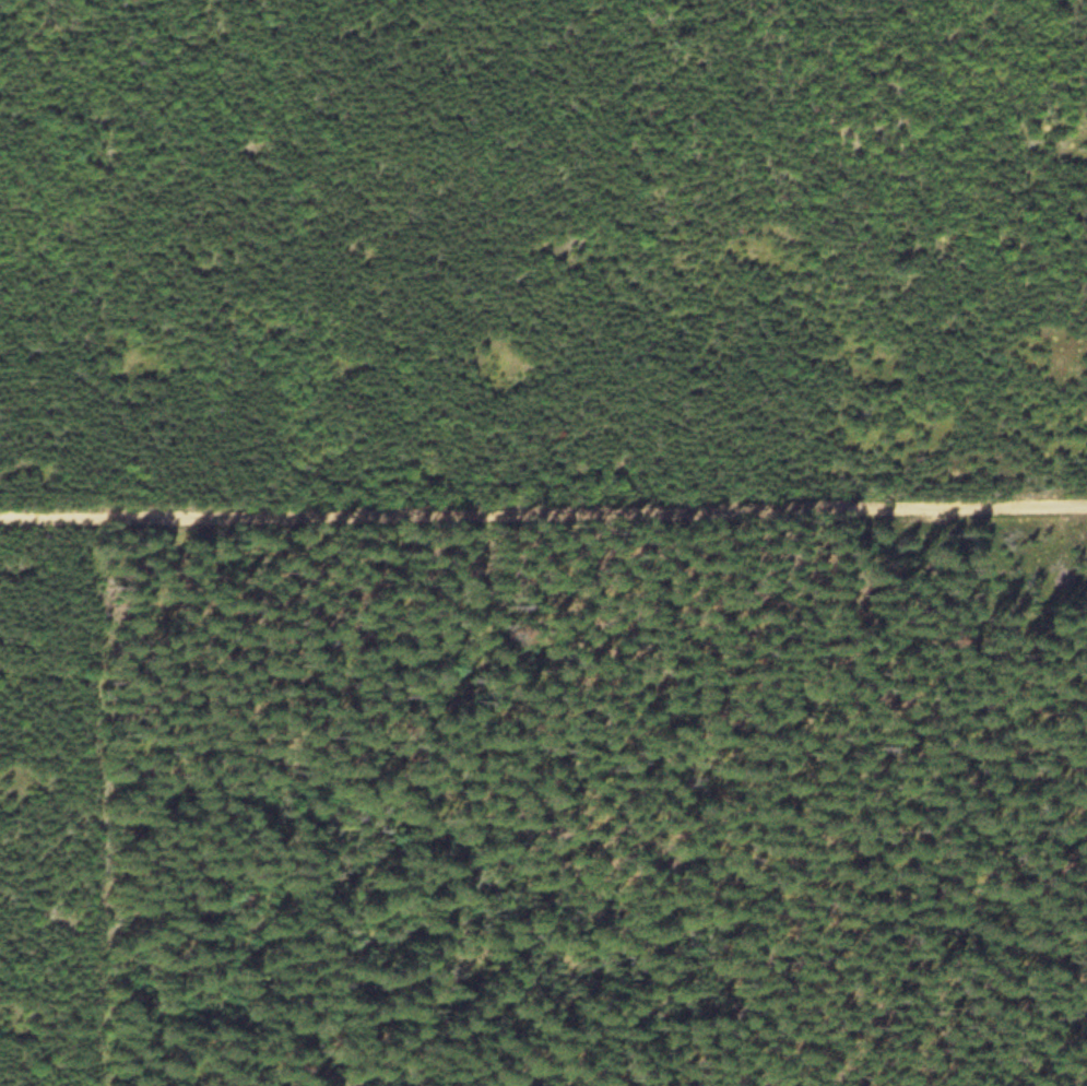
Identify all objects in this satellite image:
road: (543, 515)

